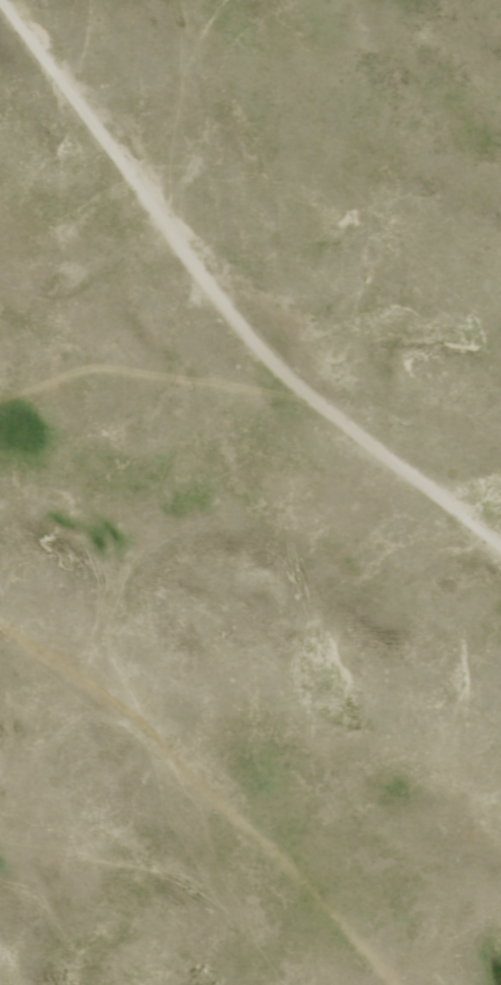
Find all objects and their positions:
road: (220, 300)

